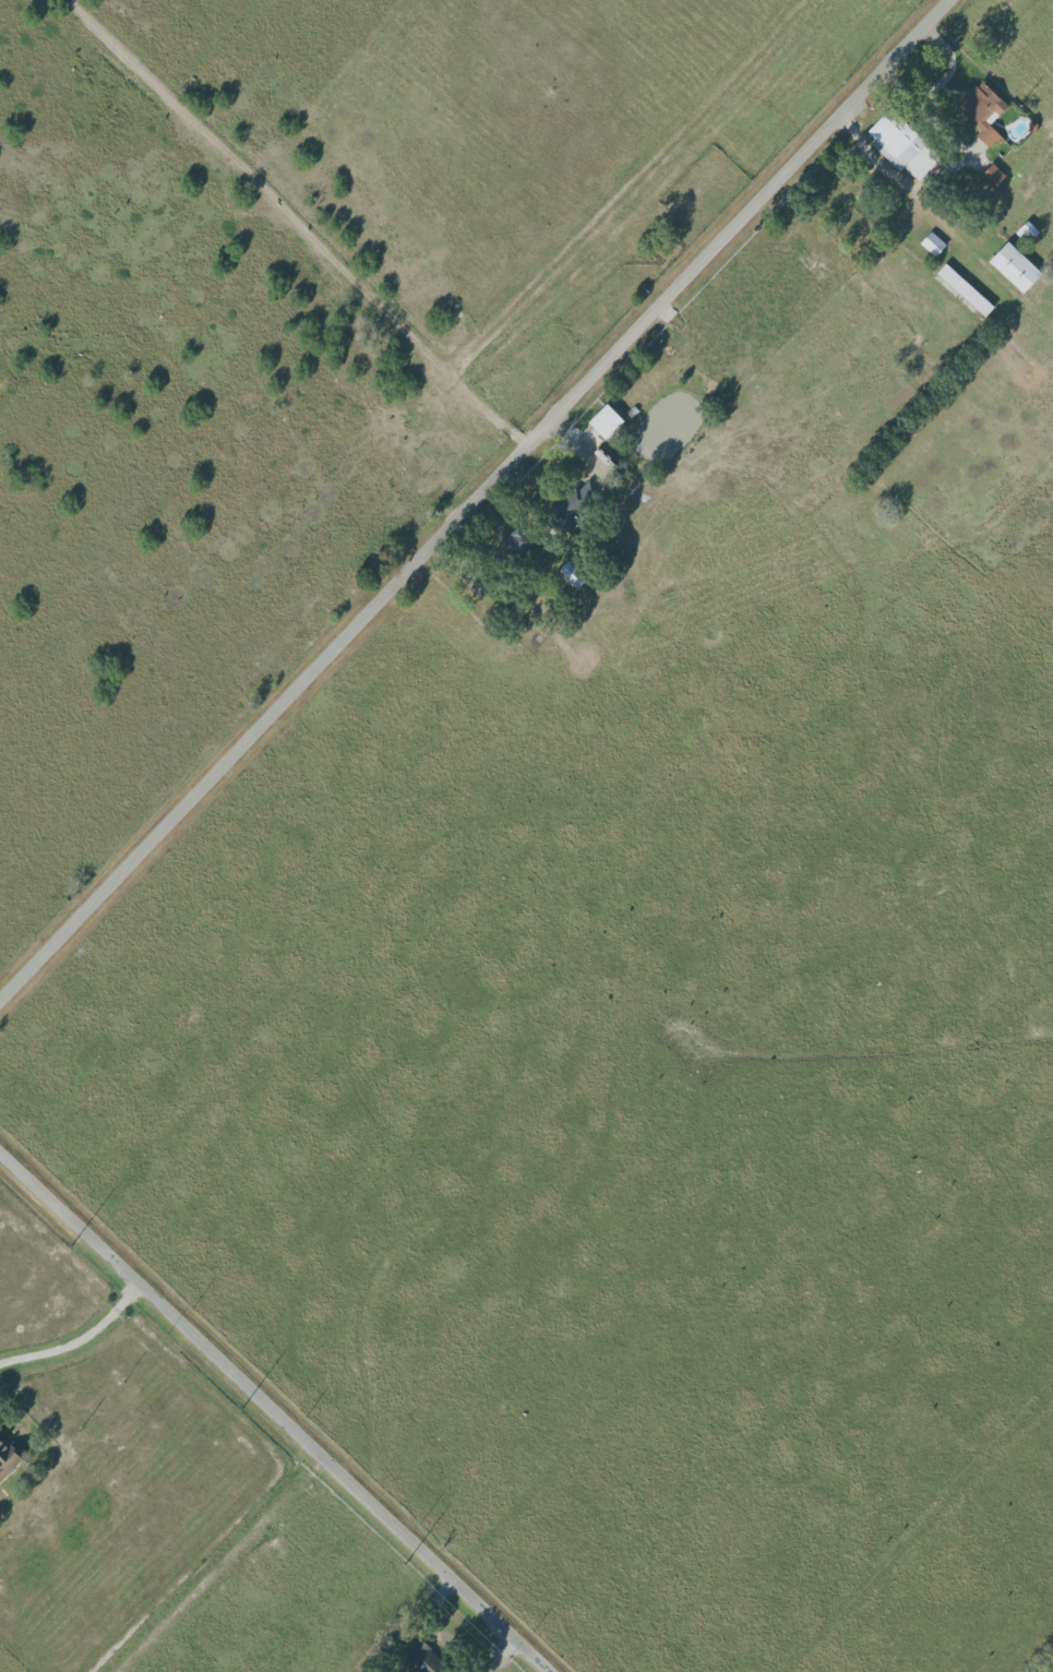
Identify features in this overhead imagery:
building: (992, 139)
building: (901, 147)
building: (992, 176)
building: (932, 243)
building: (1014, 267)
building: (964, 290)
building: (605, 421)
road: (476, 501)
building: (574, 502)
building: (516, 542)
building: (571, 575)
road: (82, 1339)
road: (278, 1407)
road: (229, 1565)
building: (422, 1658)

